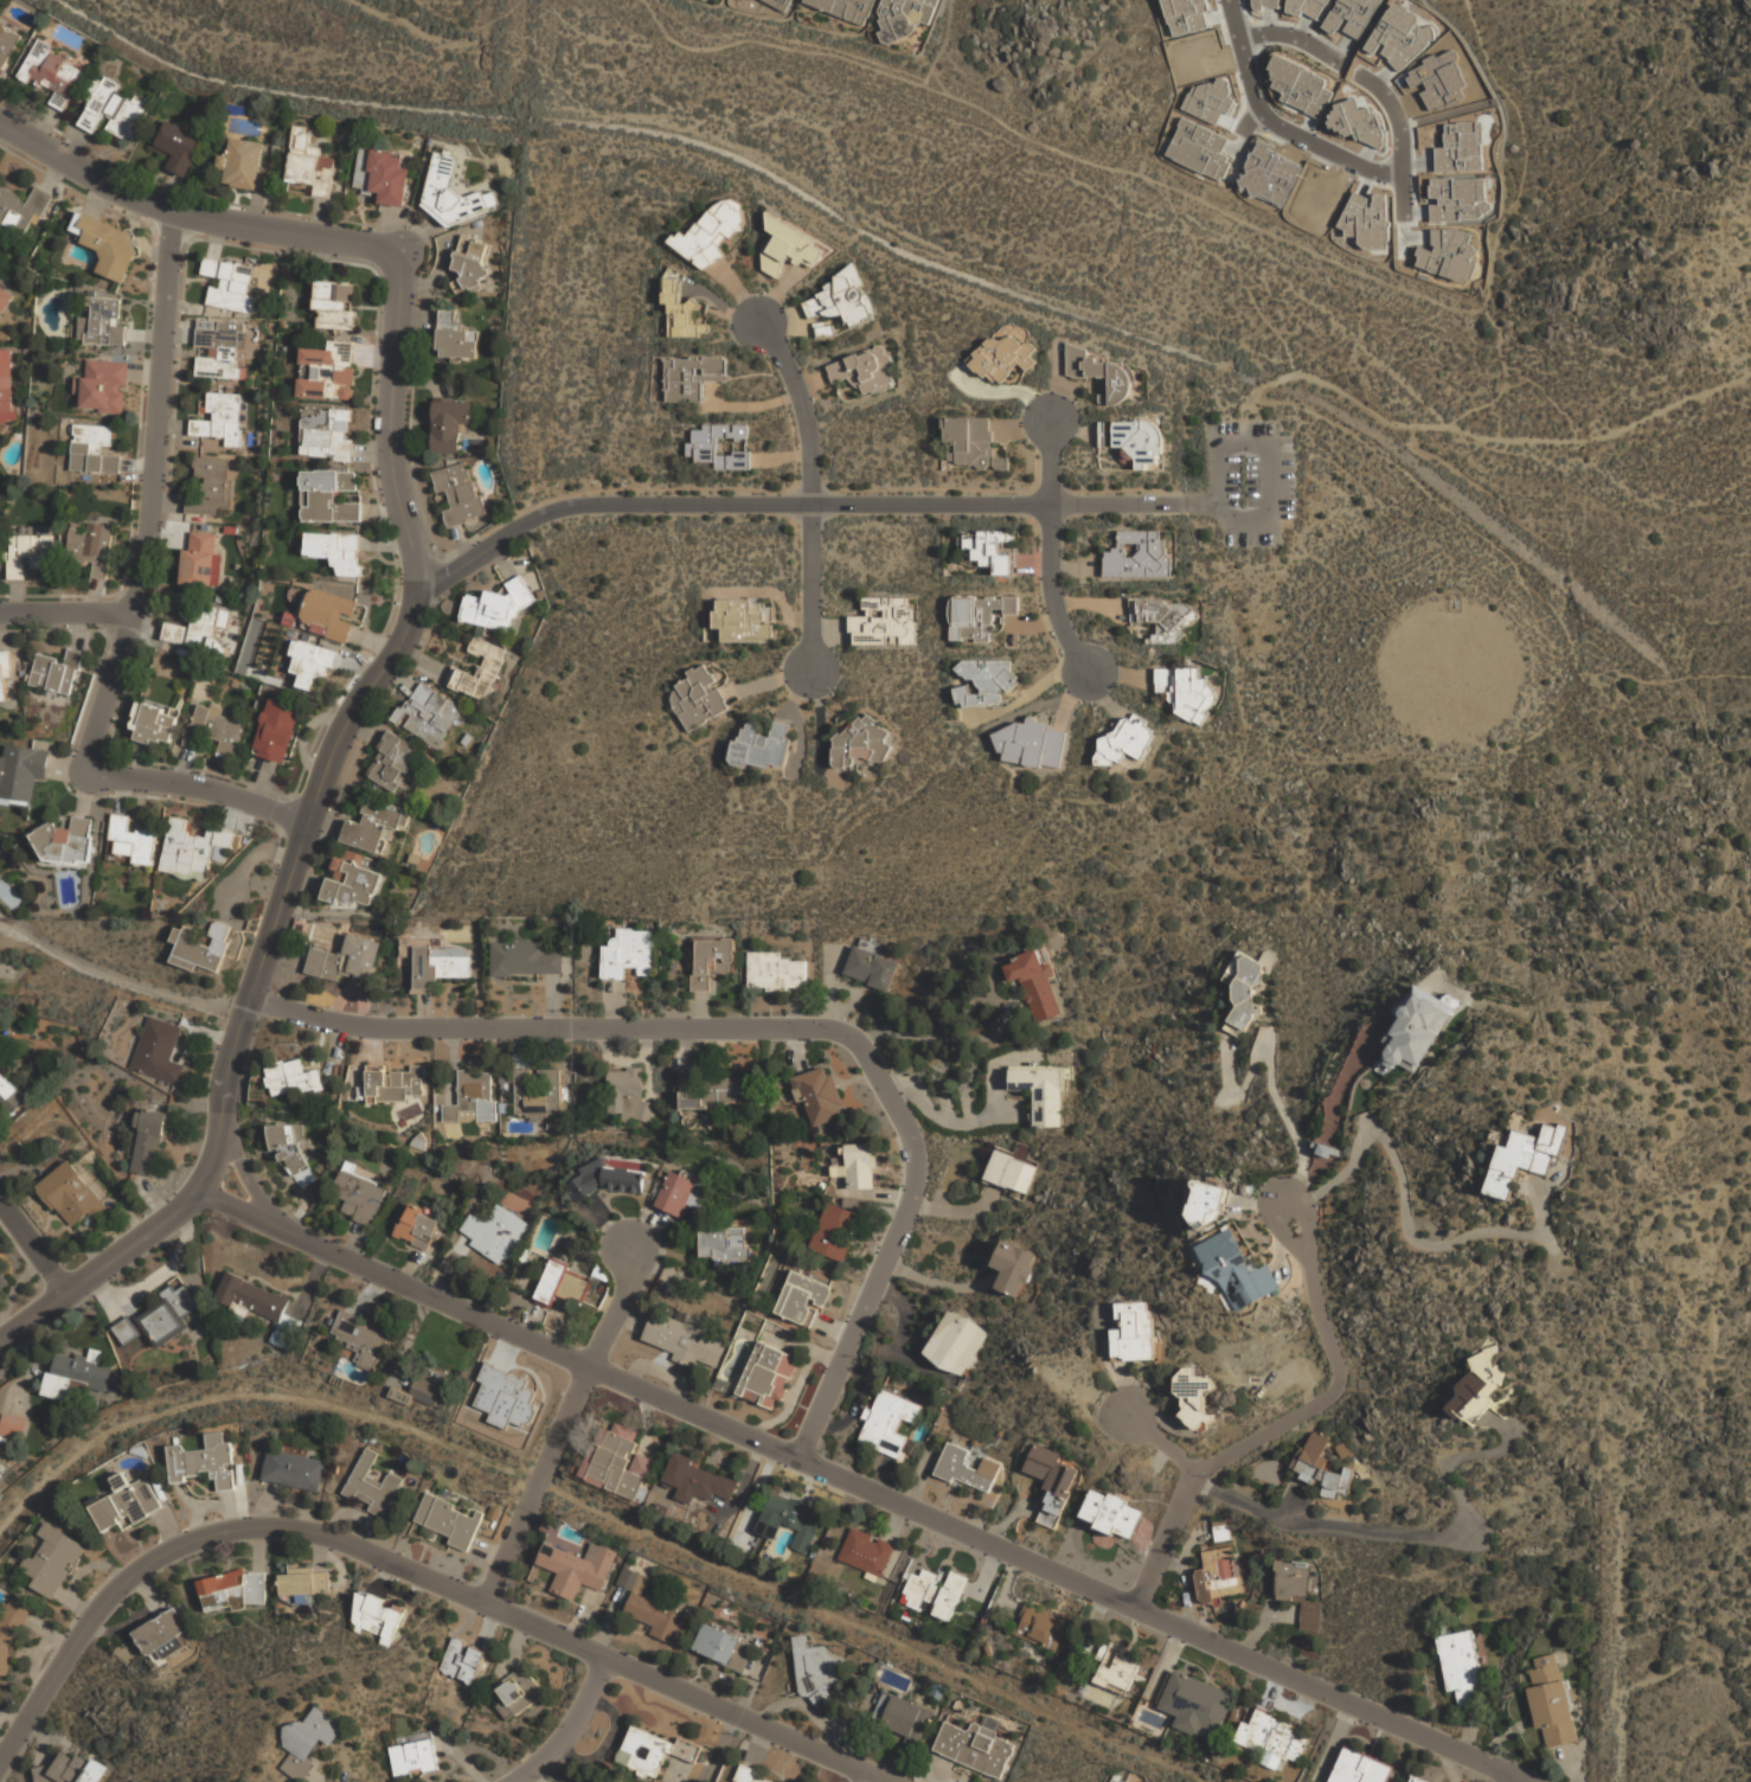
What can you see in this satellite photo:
building: (783, 2)
building: (847, 7)
building: (905, 17)
road: (1291, 37)
building: (7, 41)
road: (942, 43)
building: (54, 72)
building: (1300, 88)
building: (111, 108)
road: (1250, 115)
road: (1275, 124)
road: (1399, 137)
building: (178, 145)
road: (1063, 149)
building: (1199, 150)
building: (243, 162)
building: (308, 165)
building: (383, 175)
building: (450, 191)
building: (24, 207)
road: (192, 212)
road: (1501, 223)
building: (712, 230)
building: (107, 243)
building: (788, 245)
road: (1232, 263)
building: (472, 264)
building: (229, 282)
building: (842, 296)
building: (5, 299)
building: (334, 306)
park: (1139, 309)
building: (682, 312)
building: (104, 322)
building: (825, 328)
building: (456, 339)
building: (218, 348)
building: (1002, 355)
building: (864, 368)
building: (328, 372)
building: (1099, 372)
building: (693, 374)
building: (7, 380)
road: (1321, 380)
building: (104, 386)
building: (218, 418)
building: (448, 425)
building: (326, 434)
road: (1599, 434)
building: (1131, 440)
building: (971, 441)
building: (703, 445)
building: (725, 445)
building: (94, 449)
parking lot: (1251, 479)
building: (210, 485)
building: (460, 491)
road: (813, 492)
road: (150, 494)
building: (329, 496)
road: (723, 502)
road: (1135, 502)
road: (1271, 515)
building: (94, 545)
road: (1052, 549)
building: (989, 550)
building: (336, 551)
building: (28, 552)
building: (1136, 556)
building: (201, 558)
road: (1502, 568)
building: (496, 605)
road: (65, 611)
building: (328, 615)
building: (974, 617)
building: (1163, 618)
building: (739, 621)
building: (881, 623)
building: (193, 629)
building: (309, 667)
building: (477, 671)
building: (56, 672)
building: (977, 681)
building: (1185, 693)
building: (697, 698)
building: (426, 714)
building: (153, 723)
building: (216, 730)
building: (277, 730)
building: (859, 743)
building: (1031, 743)
building: (759, 745)
building: (1123, 745)
building: (391, 761)
building: (21, 770)
road: (199, 786)
building: (374, 827)
road: (302, 836)
building: (130, 840)
building: (65, 841)
building: (194, 848)
building: (353, 879)
building: (200, 948)
building: (628, 953)
building: (345, 960)
building: (524, 960)
building: (710, 961)
building: (440, 964)
building: (871, 968)
building: (775, 972)
road: (116, 975)
building: (1033, 985)
building: (1242, 992)
road: (781, 1026)
building: (1417, 1030)
road: (947, 1039)
building: (158, 1050)
road: (1274, 1050)
building: (1380, 1064)
building: (290, 1078)
building: (396, 1082)
building: (729, 1089)
building: (537, 1090)
building: (690, 1091)
building: (1040, 1091)
building: (628, 1095)
building: (9, 1096)
building: (473, 1096)
building: (820, 1096)
building: (147, 1141)
building: (289, 1143)
building: (1525, 1155)
building: (859, 1165)
building: (1009, 1172)
road: (248, 1177)
building: (609, 1179)
building: (70, 1194)
building: (681, 1194)
building: (359, 1197)
building: (1206, 1201)
road: (1405, 1203)
building: (418, 1226)
building: (836, 1231)
building: (494, 1232)
building: (724, 1244)
road: (33, 1246)
building: (1013, 1267)
building: (1237, 1270)
building: (4, 1280)
building: (563, 1283)
building: (251, 1296)
building: (803, 1296)
building: (168, 1315)
building: (126, 1329)
building: (287, 1331)
building: (1131, 1332)
building: (361, 1338)
building: (684, 1338)
building: (956, 1344)
building: (77, 1373)
building: (770, 1376)
building: (1479, 1385)
building: (426, 1391)
building: (1193, 1396)
road: (1289, 1419)
building: (886, 1423)
building: (13, 1425)
road: (564, 1429)
road: (1162, 1440)
building: (206, 1461)
building: (624, 1466)
building: (963, 1467)
building: (1319, 1467)
building: (295, 1470)
building: (697, 1479)
road: (857, 1481)
building: (1050, 1481)
building: (372, 1486)
building: (127, 1500)
building: (1110, 1513)
building: (448, 1519)
building: (790, 1519)
road: (1402, 1532)
building: (866, 1552)
building: (53, 1559)
building: (578, 1568)
road: (410, 1569)
building: (1217, 1571)
building: (303, 1583)
building: (233, 1589)
building: (1296, 1591)
building: (935, 1592)
building: (378, 1614)
building: (656, 1617)
building: (1041, 1627)
building: (161, 1633)
building: (724, 1646)
building: (463, 1659)
building: (1117, 1665)
building: (1460, 1665)
building: (819, 1669)
building: (518, 1692)
building: (1553, 1698)
building: (1195, 1703)
building: (902, 1716)
road: (569, 1726)
building: (1272, 1738)
building: (309, 1741)
building: (976, 1746)
building: (656, 1749)
building: (413, 1754)
building: (1360, 1768)
building: (73, 1770)
building: (753, 1776)
road: (870, 1777)
building: (1419, 1778)
road: (1512, 1778)
road: (1521, 1778)

